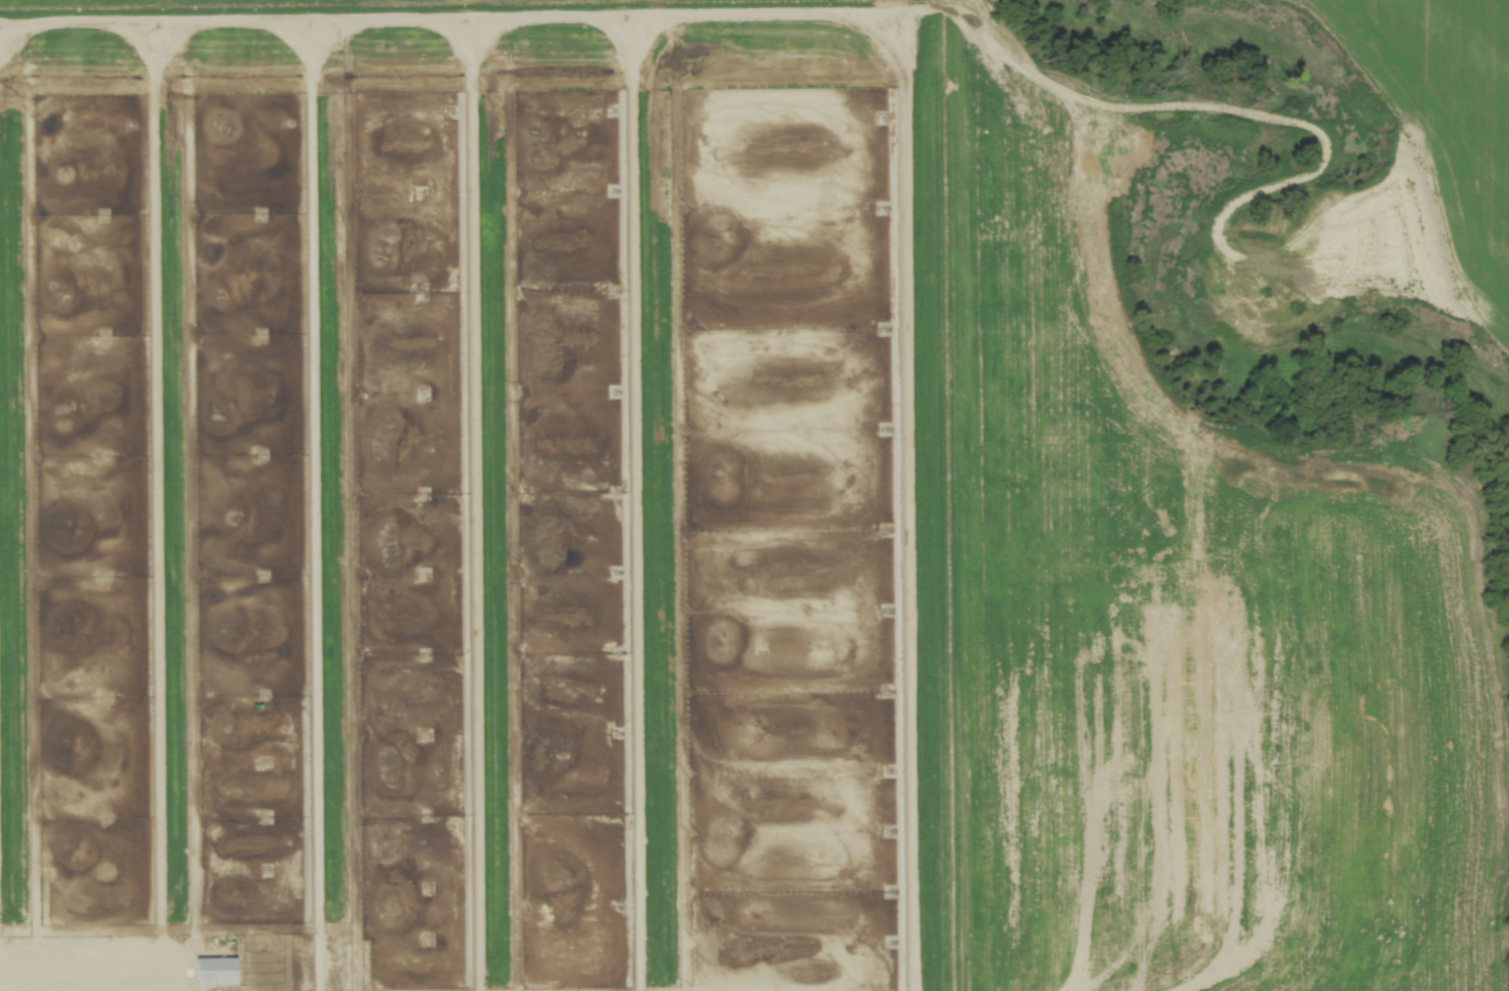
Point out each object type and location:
building: (611, 823)
building: (217, 971)

